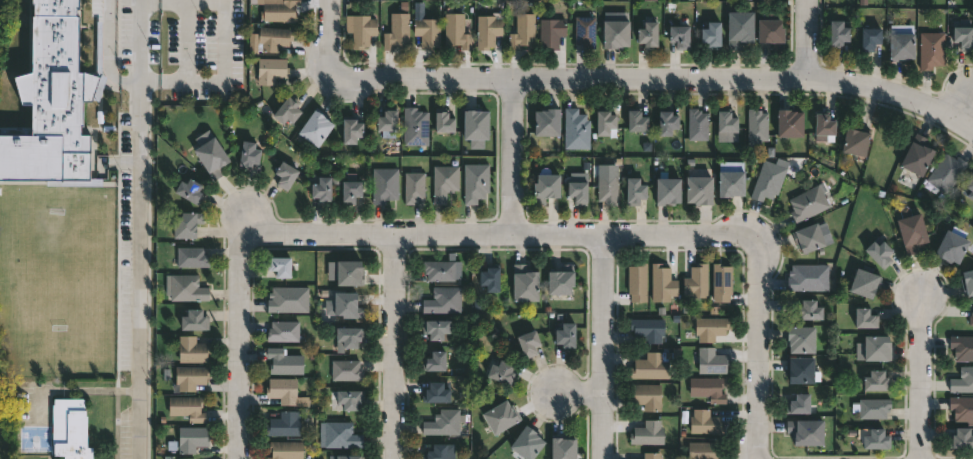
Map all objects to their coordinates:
building: (280, 10)
building: (207, 25)
building: (739, 28)
building: (362, 30)
building: (455, 30)
building: (487, 30)
building: (771, 30)
building: (397, 31)
building: (427, 31)
building: (523, 31)
building: (585, 31)
building: (551, 32)
building: (615, 33)
building: (839, 33)
building: (648, 34)
building: (712, 34)
building: (680, 35)
building: (964, 37)
building: (273, 38)
building: (871, 38)
road: (329, 39)
road: (807, 39)
road: (224, 42)
building: (902, 42)
parking lot: (205, 48)
building: (932, 50)
road: (109, 53)
building: (271, 70)
road: (655, 78)
building: (52, 105)
building: (287, 110)
building: (637, 120)
building: (443, 121)
building: (387, 122)
building: (547, 122)
building: (605, 122)
building: (667, 122)
building: (790, 123)
building: (473, 124)
building: (697, 124)
building: (726, 125)
building: (415, 126)
building: (824, 126)
building: (315, 127)
building: (756, 127)
building: (576, 129)
building: (350, 130)
building: (856, 142)
building: (248, 154)
building: (917, 156)
building: (209, 157)
road: (511, 157)
building: (946, 172)
building: (285, 174)
building: (731, 178)
building: (769, 179)
building: (444, 182)
building: (475, 182)
building: (384, 184)
building: (413, 185)
building: (546, 186)
building: (608, 187)
building: (699, 189)
building: (970, 189)
building: (189, 190)
building: (321, 190)
building: (350, 190)
building: (635, 191)
building: (668, 191)
building: (578, 192)
building: (808, 203)
building: (185, 224)
road: (140, 229)
building: (912, 230)
road: (502, 235)
building: (809, 238)
building: (950, 245)
building: (878, 252)
building: (191, 256)
building: (280, 266)
building: (439, 270)
building: (349, 273)
building: (808, 277)
building: (490, 278)
building: (559, 280)
building: (696, 281)
building: (968, 281)
building: (637, 282)
building: (722, 282)
building: (864, 283)
building: (525, 284)
building: (662, 284)
building: (184, 288)
building: (79, 296)
building: (288, 299)
building: (443, 301)
building: (346, 305)
building: (810, 311)
building: (865, 318)
building: (971, 319)
building: (193, 321)
building: (710, 328)
building: (436, 329)
building: (648, 329)
building: (283, 331)
building: (349, 336)
building: (566, 337)
building: (801, 340)
building: (528, 343)
road: (240, 346)
road: (397, 347)
road: (604, 347)
building: (962, 347)
road: (760, 348)
building: (874, 349)
building: (191, 350)
building: (711, 361)
building: (283, 362)
building: (435, 362)
building: (650, 367)
building: (346, 370)
building: (802, 370)
building: (500, 372)
building: (190, 377)
road: (923, 379)
building: (962, 380)
building: (877, 381)
road: (77, 389)
building: (707, 389)
building: (282, 390)
road: (579, 391)
building: (437, 393)
building: (647, 396)
building: (349, 399)
building: (800, 404)
building: (186, 408)
building: (872, 408)
building: (962, 409)
building: (501, 417)
building: (705, 422)
building: (444, 423)
building: (283, 425)
building: (69, 429)
building: (807, 432)
building: (648, 433)
building: (339, 435)
building: (191, 439)
building: (874, 439)
building: (963, 439)
building: (527, 443)
building: (563, 449)
building: (285, 450)
building: (702, 450)
building: (434, 452)
building: (651, 456)
building: (349, 457)

